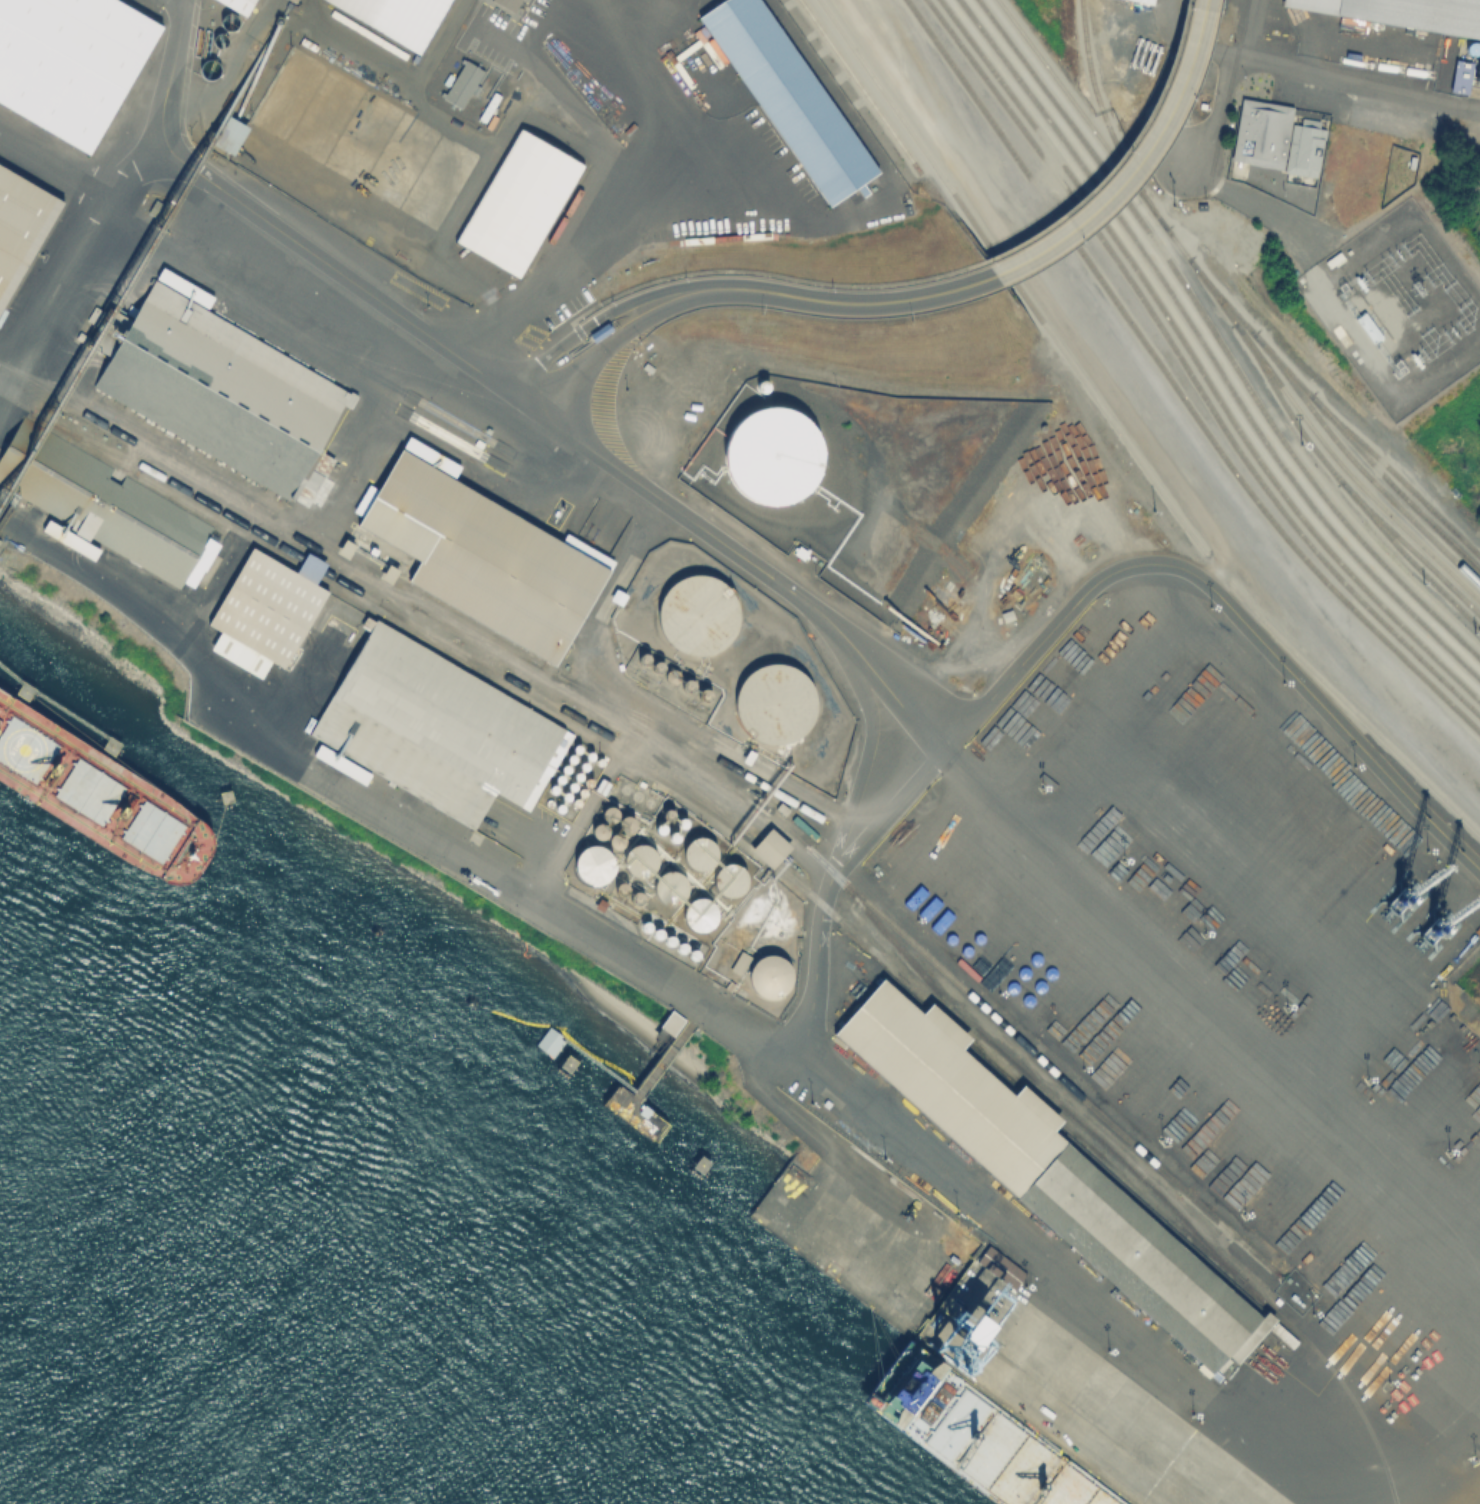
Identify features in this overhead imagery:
building: (292, 2)
building: (1137, 2)
building: (1410, 12)
building: (396, 18)
road: (1220, 50)
building: (71, 63)
road: (1304, 73)
railway: (856, 83)
building: (787, 95)
railway: (1112, 129)
building: (1260, 133)
building: (1326, 156)
road: (1139, 163)
building: (519, 205)
building: (21, 226)
road: (579, 256)
road: (77, 260)
railway: (1209, 299)
road: (826, 302)
power substation: (1397, 307)
building: (117, 326)
building: (600, 333)
road: (572, 335)
railway: (1216, 339)
railway: (1205, 352)
road: (593, 360)
railway: (1194, 363)
railway: (1188, 370)
railway: (1173, 384)
road: (504, 390)
building: (225, 396)
railway: (1123, 437)
building: (777, 456)
railway: (1357, 460)
building: (8, 463)
railway: (1320, 469)
railway: (1355, 474)
railway: (1390, 481)
railway: (1367, 502)
building: (114, 516)
road: (4, 522)
railway: (1388, 537)
building: (68, 539)
pier: (1, 557)
building: (486, 557)
railway: (413, 588)
road: (1074, 602)
railway: (402, 612)
building: (262, 613)
building: (700, 616)
railway: (434, 637)
building: (776, 704)
pier: (55, 709)
building: (438, 729)
railway: (660, 736)
building: (578, 750)
building: (591, 757)
building: (572, 761)
railway: (691, 762)
building: (600, 763)
building: (585, 767)
building: (566, 771)
building: (579, 777)
building: (560, 781)
building: (589, 784)
building: (572, 787)
building: (602, 789)
building: (555, 791)
building: (584, 794)
building: (567, 797)
building: (547, 804)
building: (577, 804)
building: (651, 804)
building: (560, 809)
building: (611, 815)
building: (670, 815)
building: (685, 824)
building: (628, 826)
building: (662, 830)
building: (601, 832)
building: (676, 838)
building: (618, 842)
building: (769, 848)
building: (702, 854)
railway: (775, 859)
building: (643, 861)
building: (596, 865)
building: (732, 881)
building: (672, 889)
building: (702, 915)
building: (648, 927)
building: (660, 934)
building: (672, 942)
building: (684, 948)
building: (696, 956)
building: (770, 978)
building: (672, 1024)
road: (750, 1028)
building: (549, 1044)
pier: (653, 1073)
building: (1054, 1178)
building: (999, 1267)
pier: (913, 1302)
building: (1282, 1334)
pier: (1123, 1457)

